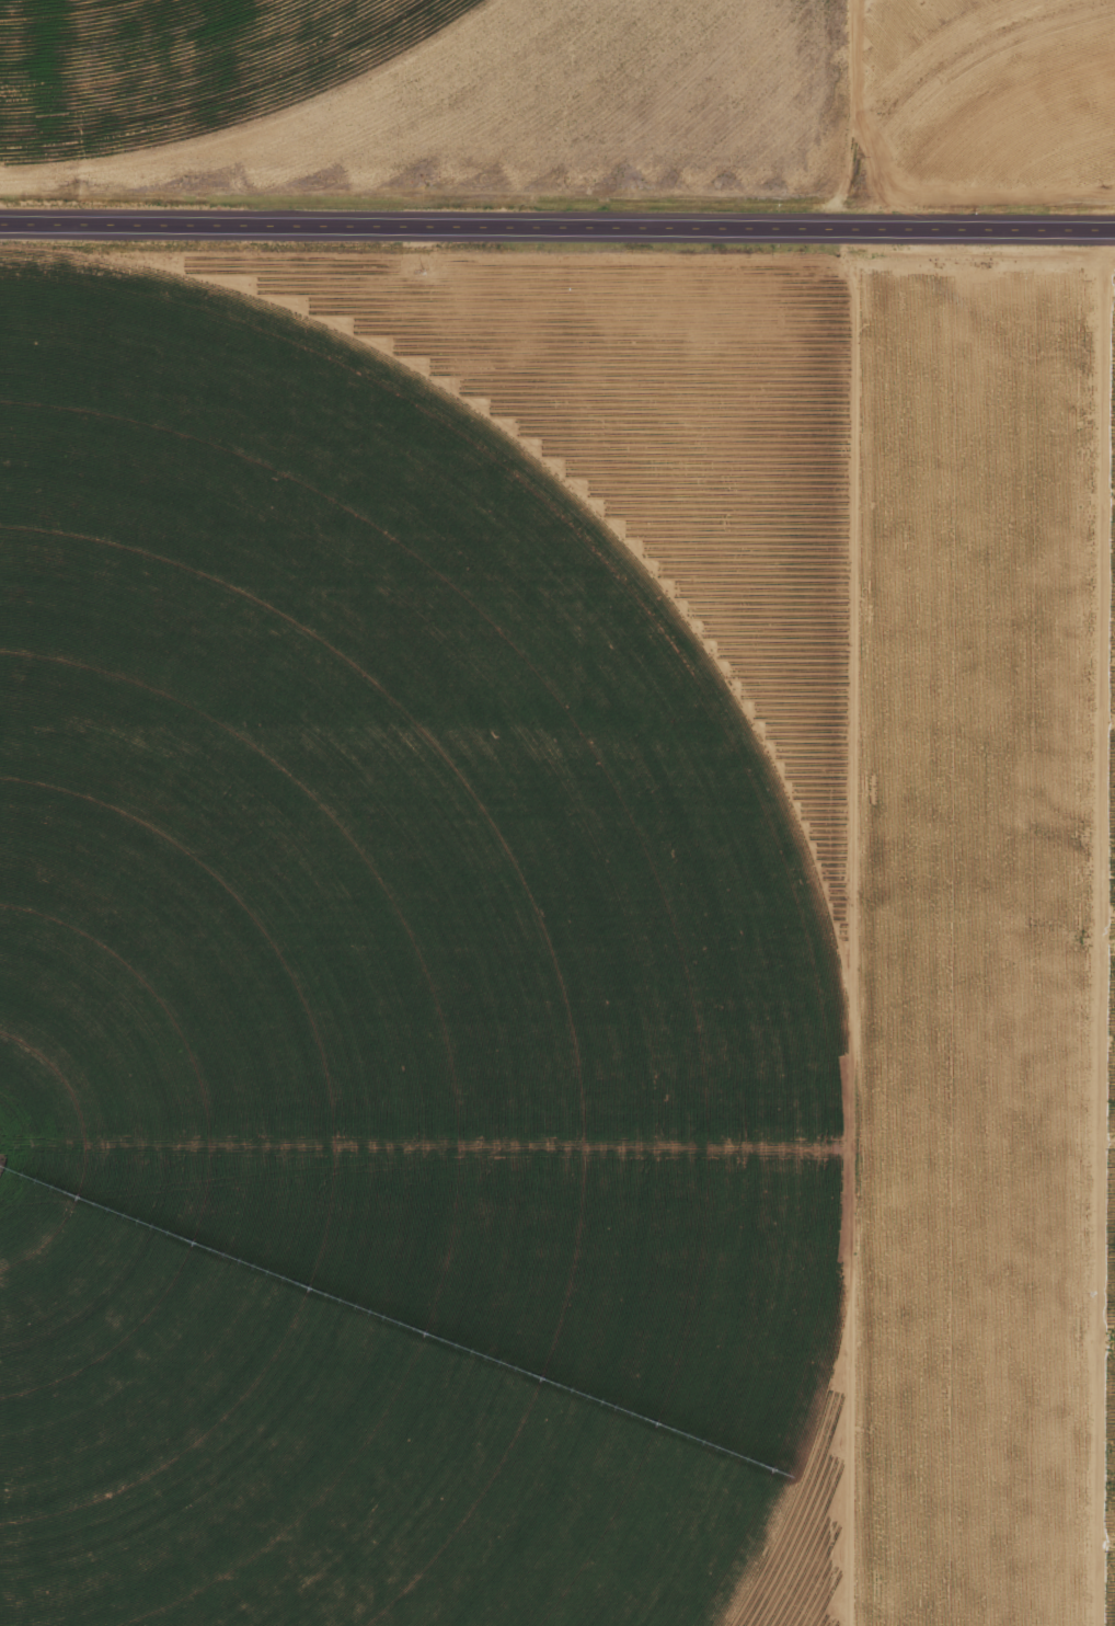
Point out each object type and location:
road: (557, 239)

